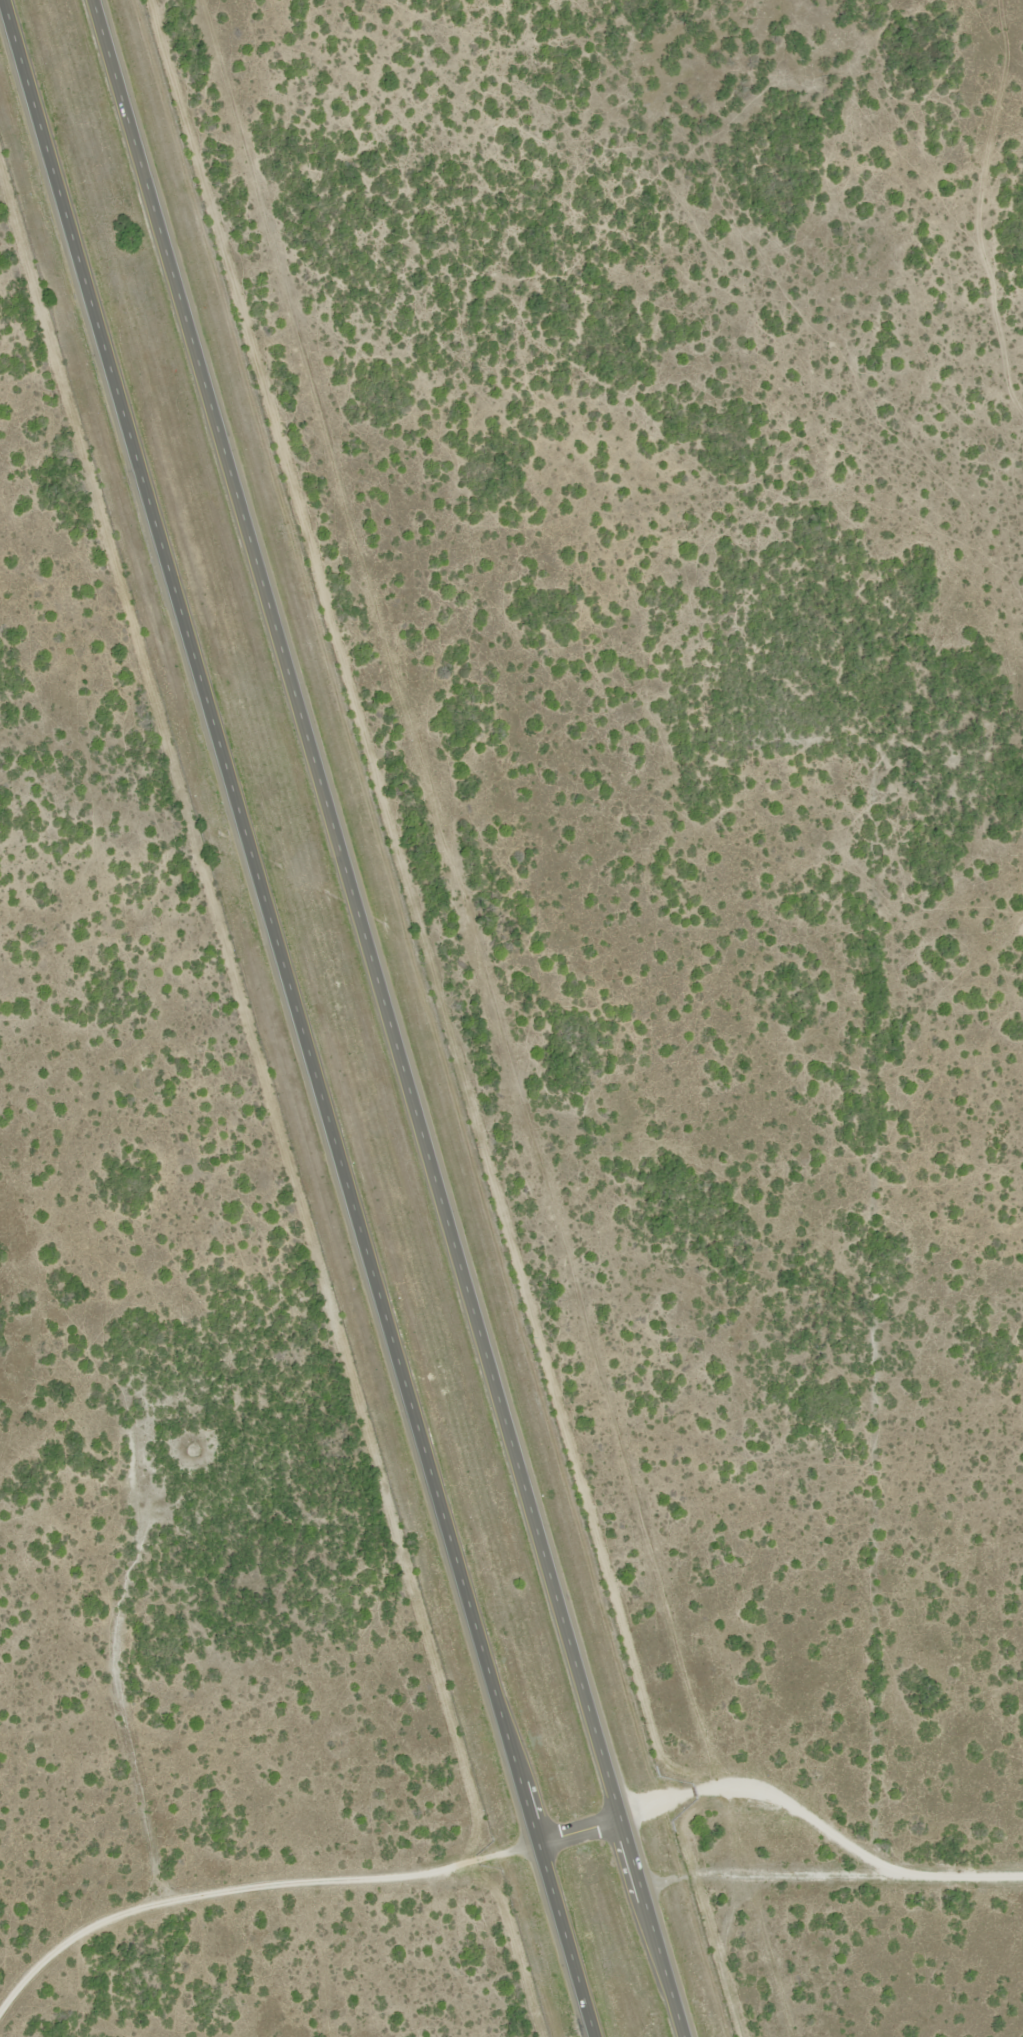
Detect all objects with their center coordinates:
road: (301, 1018)
road: (393, 1018)
road: (120, 1698)
road: (446, 1865)
road: (956, 1884)

